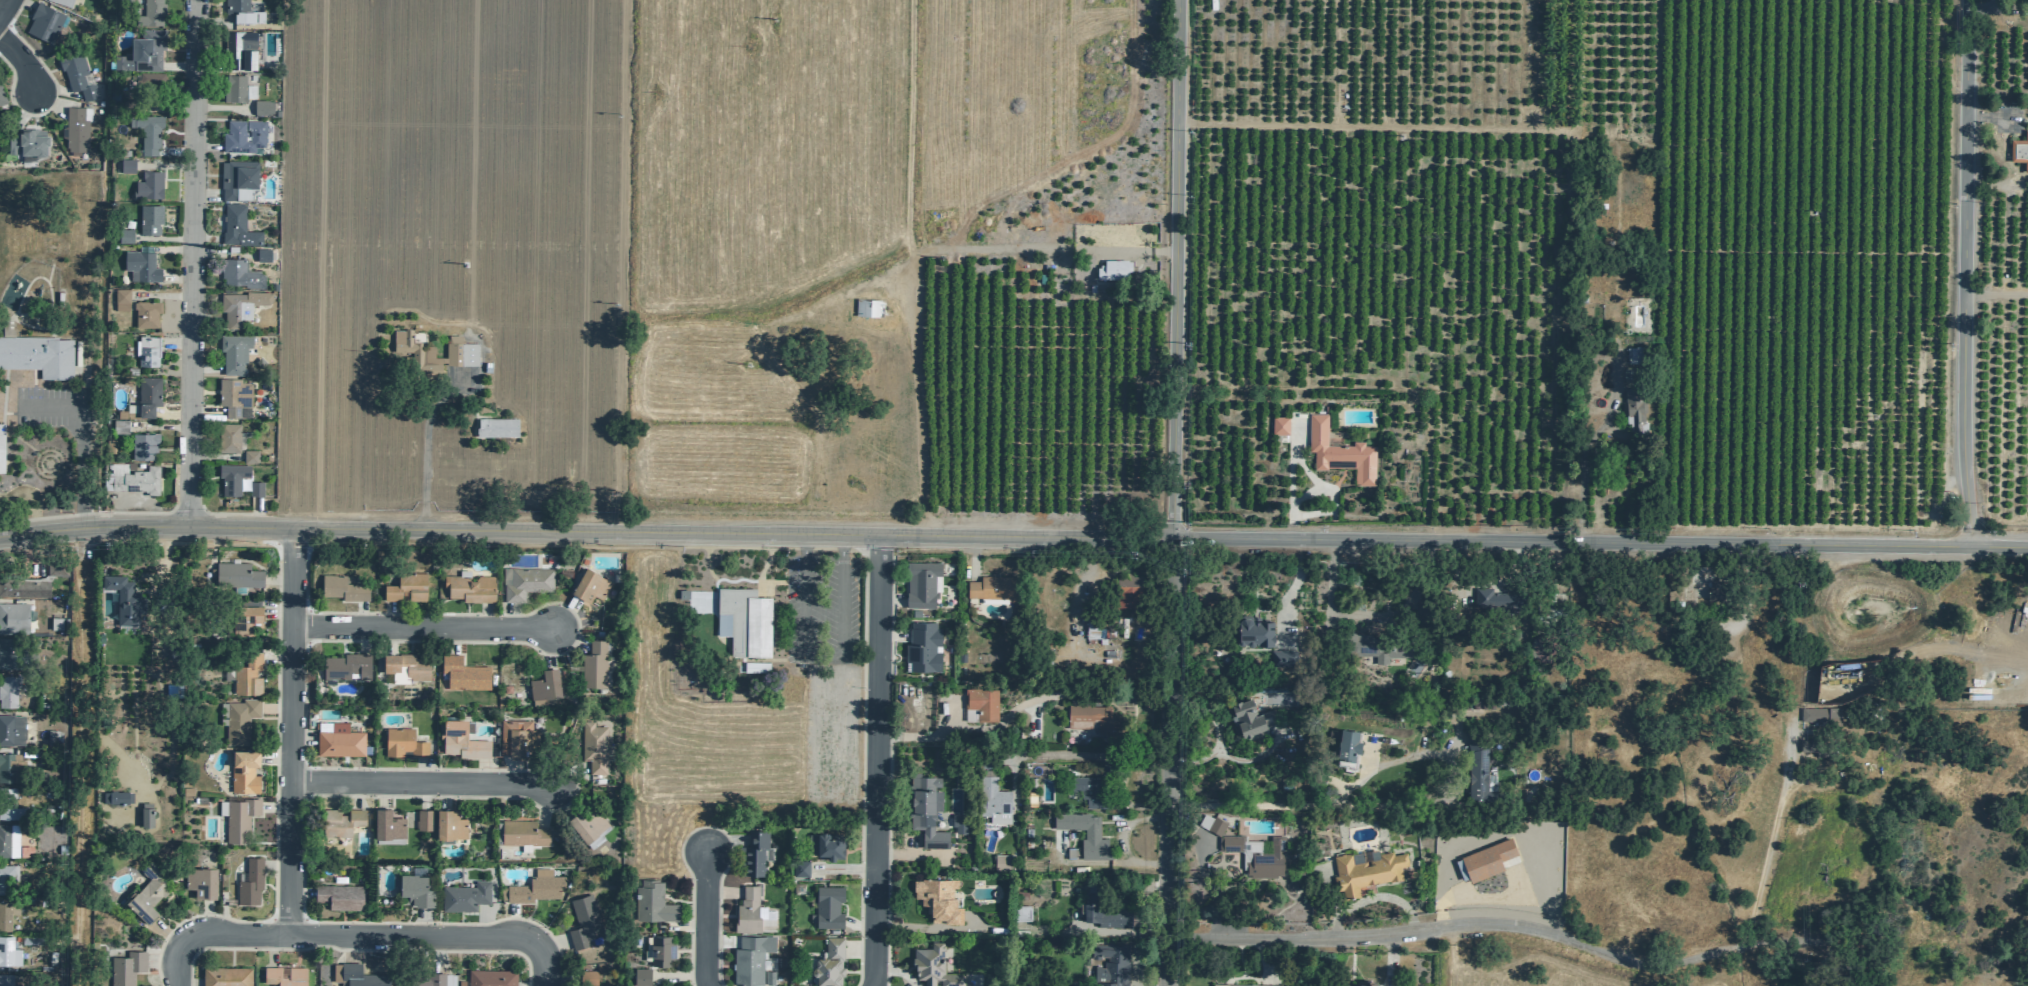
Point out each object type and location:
building: (123, 0)
building: (62, 2)
road: (2, 3)
building: (234, 11)
building: (152, 12)
building: (259, 20)
building: (42, 21)
building: (238, 49)
building: (141, 51)
road: (19, 63)
road: (176, 66)
building: (76, 73)
building: (150, 85)
building: (233, 87)
building: (251, 91)
road: (54, 92)
building: (3, 99)
building: (126, 104)
road: (165, 106)
building: (261, 106)
road: (221, 107)
road: (1990, 116)
building: (75, 127)
building: (147, 132)
building: (242, 135)
building: (28, 144)
road: (205, 145)
building: (2020, 146)
road: (173, 151)
building: (126, 165)
road: (162, 165)
building: (237, 178)
building: (147, 185)
road: (205, 194)
building: (148, 218)
building: (236, 225)
building: (124, 235)
road: (160, 237)
road: (356, 239)
building: (262, 254)
road: (1121, 254)
road: (926, 255)
road: (189, 263)
building: (140, 265)
building: (1113, 269)
road: (1176, 269)
building: (239, 273)
road: (1966, 274)
road: (175, 275)
road: (1997, 294)
road: (159, 295)
building: (120, 299)
building: (240, 305)
building: (870, 307)
building: (145, 313)
road: (206, 320)
road: (173, 343)
building: (411, 344)
building: (147, 350)
building: (233, 351)
building: (458, 352)
building: (41, 354)
building: (1637, 354)
road: (204, 368)
road: (31, 377)
road: (2, 395)
building: (147, 395)
building: (232, 395)
building: (1634, 408)
parking lot: (52, 409)
road: (204, 410)
road: (6, 412)
road: (169, 413)
building: (1279, 423)
building: (118, 426)
building: (496, 427)
building: (228, 437)
road: (78, 439)
road: (424, 442)
building: (142, 444)
building: (1, 447)
building: (1339, 450)
road: (212, 456)
building: (248, 456)
road: (1581, 459)
building: (230, 477)
building: (133, 478)
road: (1291, 486)
building: (254, 488)
road: (27, 492)
road: (1331, 493)
road: (1306, 494)
road: (108, 511)
road: (254, 511)
road: (227, 512)
road: (586, 532)
road: (49, 542)
road: (1600, 544)
street lamp: (857, 553)
road: (163, 557)
road: (972, 557)
building: (56, 565)
building: (236, 575)
road: (277, 579)
road: (731, 579)
building: (523, 581)
building: (920, 583)
building: (588, 585)
building: (24, 586)
building: (341, 587)
building: (405, 587)
building: (469, 587)
building: (993, 587)
building: (1126, 589)
building: (1717, 591)
road: (1291, 592)
road: (1078, 596)
building: (123, 598)
road: (891, 599)
building: (1689, 599)
building: (1500, 600)
building: (1549, 604)
parking lot: (820, 608)
road: (276, 611)
road: (359, 613)
road: (562, 613)
road: (390, 614)
road: (484, 615)
road: (511, 615)
building: (14, 616)
building: (244, 618)
building: (742, 620)
building: (54, 622)
building: (1091, 625)
road: (419, 626)
building: (1255, 631)
road: (891, 634)
road: (567, 637)
road: (362, 638)
road: (388, 638)
road: (452, 639)
road: (547, 646)
building: (921, 647)
building: (1379, 647)
road: (275, 654)
building: (11, 655)
building: (959, 656)
building: (1284, 658)
building: (592, 664)
building: (345, 666)
building: (403, 666)
building: (461, 673)
building: (245, 675)
building: (543, 685)
street lamp: (862, 687)
building: (8, 690)
building: (1475, 703)
building: (978, 704)
road: (274, 707)
building: (1818, 713)
building: (1252, 717)
building: (1095, 719)
building: (238, 720)
road: (983, 727)
building: (11, 729)
road: (287, 729)
road: (300, 737)
building: (516, 737)
building: (337, 739)
building: (460, 740)
building: (402, 742)
building: (593, 746)
building: (1814, 746)
building: (1348, 747)
road: (1061, 754)
road: (77, 756)
road: (273, 757)
road: (877, 762)
road: (1172, 762)
building: (9, 766)
road: (414, 768)
building: (1478, 768)
building: (1103, 769)
building: (243, 770)
road: (482, 770)
road: (888, 770)
road: (514, 771)
road: (859, 777)
road: (418, 780)
building: (1280, 786)
building: (1088, 789)
road: (351, 792)
road: (380, 793)
road: (442, 793)
road: (559, 795)
building: (116, 797)
street lamp: (861, 799)
road: (543, 801)
building: (994, 802)
building: (8, 804)
road: (274, 806)
road: (1310, 806)
road: (1391, 806)
road: (273, 807)
building: (924, 809)
building: (145, 814)
building: (238, 818)
building: (423, 819)
building: (336, 821)
building: (959, 821)
building: (386, 824)
building: (448, 824)
building: (586, 825)
road: (705, 825)
building: (1212, 825)
building: (521, 832)
building: (1082, 833)
road: (726, 840)
road: (1119, 840)
building: (12, 841)
building: (596, 841)
road: (1768, 842)
building: (828, 845)
building: (752, 852)
road: (911, 854)
building: (1258, 855)
building: (1484, 860)
building: (999, 861)
road: (1103, 862)
road: (274, 864)
building: (799, 867)
road: (843, 868)
building: (1367, 872)
road: (1205, 874)
street lamp: (690, 877)
building: (7, 878)
building: (200, 881)
building: (249, 881)
building: (534, 887)
building: (414, 890)
building: (147, 891)
road: (298, 892)
road: (723, 892)
building: (338, 896)
building: (463, 896)
road: (1372, 896)
road: (1476, 896)
building: (936, 899)
building: (651, 902)
building: (827, 906)
building: (1100, 910)
building: (751, 912)
building: (6, 913)
road: (708, 916)
road: (205, 917)
road: (511, 919)
road: (421, 921)
road: (484, 921)
building: (583, 923)
road: (685, 924)
road: (1463, 925)
road: (858, 926)
road: (1221, 926)
road: (927, 927)
road: (166, 933)
road: (377, 934)
street lamp: (859, 934)
building: (33, 940)
road: (720, 941)
road: (550, 944)
road: (348, 947)
road: (271, 948)
road: (859, 948)
road: (356, 949)
building: (660, 949)
building: (8, 952)
road: (438, 952)
building: (748, 958)
road: (161, 960)
building: (828, 962)
road: (1263, 962)
road: (1388, 962)
road: (175, 964)
building: (1108, 964)
building: (932, 965)
building: (125, 968)
road: (895, 972)
road: (683, 974)
building: (225, 975)
building: (283, 975)
building: (357, 975)
building: (640, 976)
building: (490, 977)
building: (767, 977)
building: (588, 978)
building: (424, 979)
building: (5, 980)
road: (186, 983)
building: (1078, 983)
building: (1364, 983)
road: (527, 985)
building: (1245, 985)

